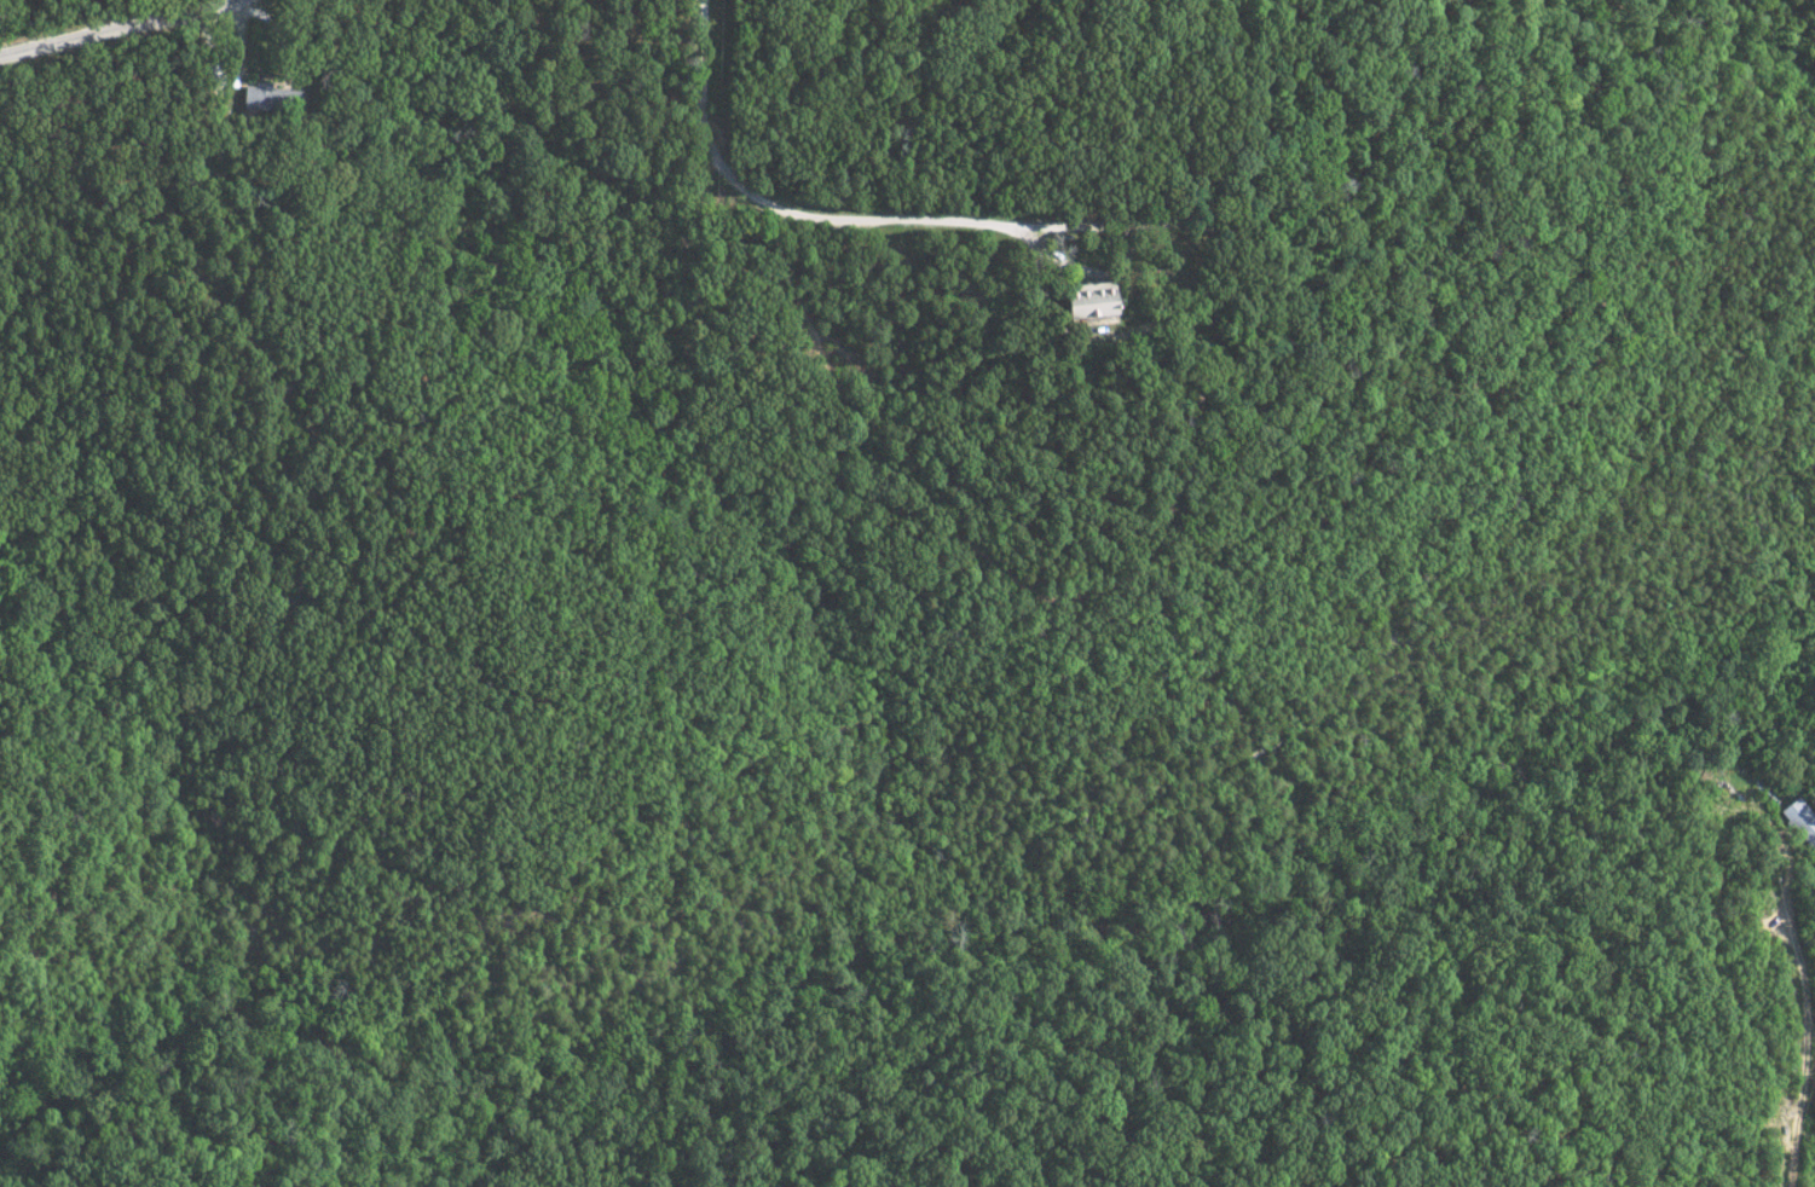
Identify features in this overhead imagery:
road: (117, 31)
building: (266, 98)
road: (979, 219)
building: (1086, 300)
building: (1798, 821)
road: (1796, 1011)

